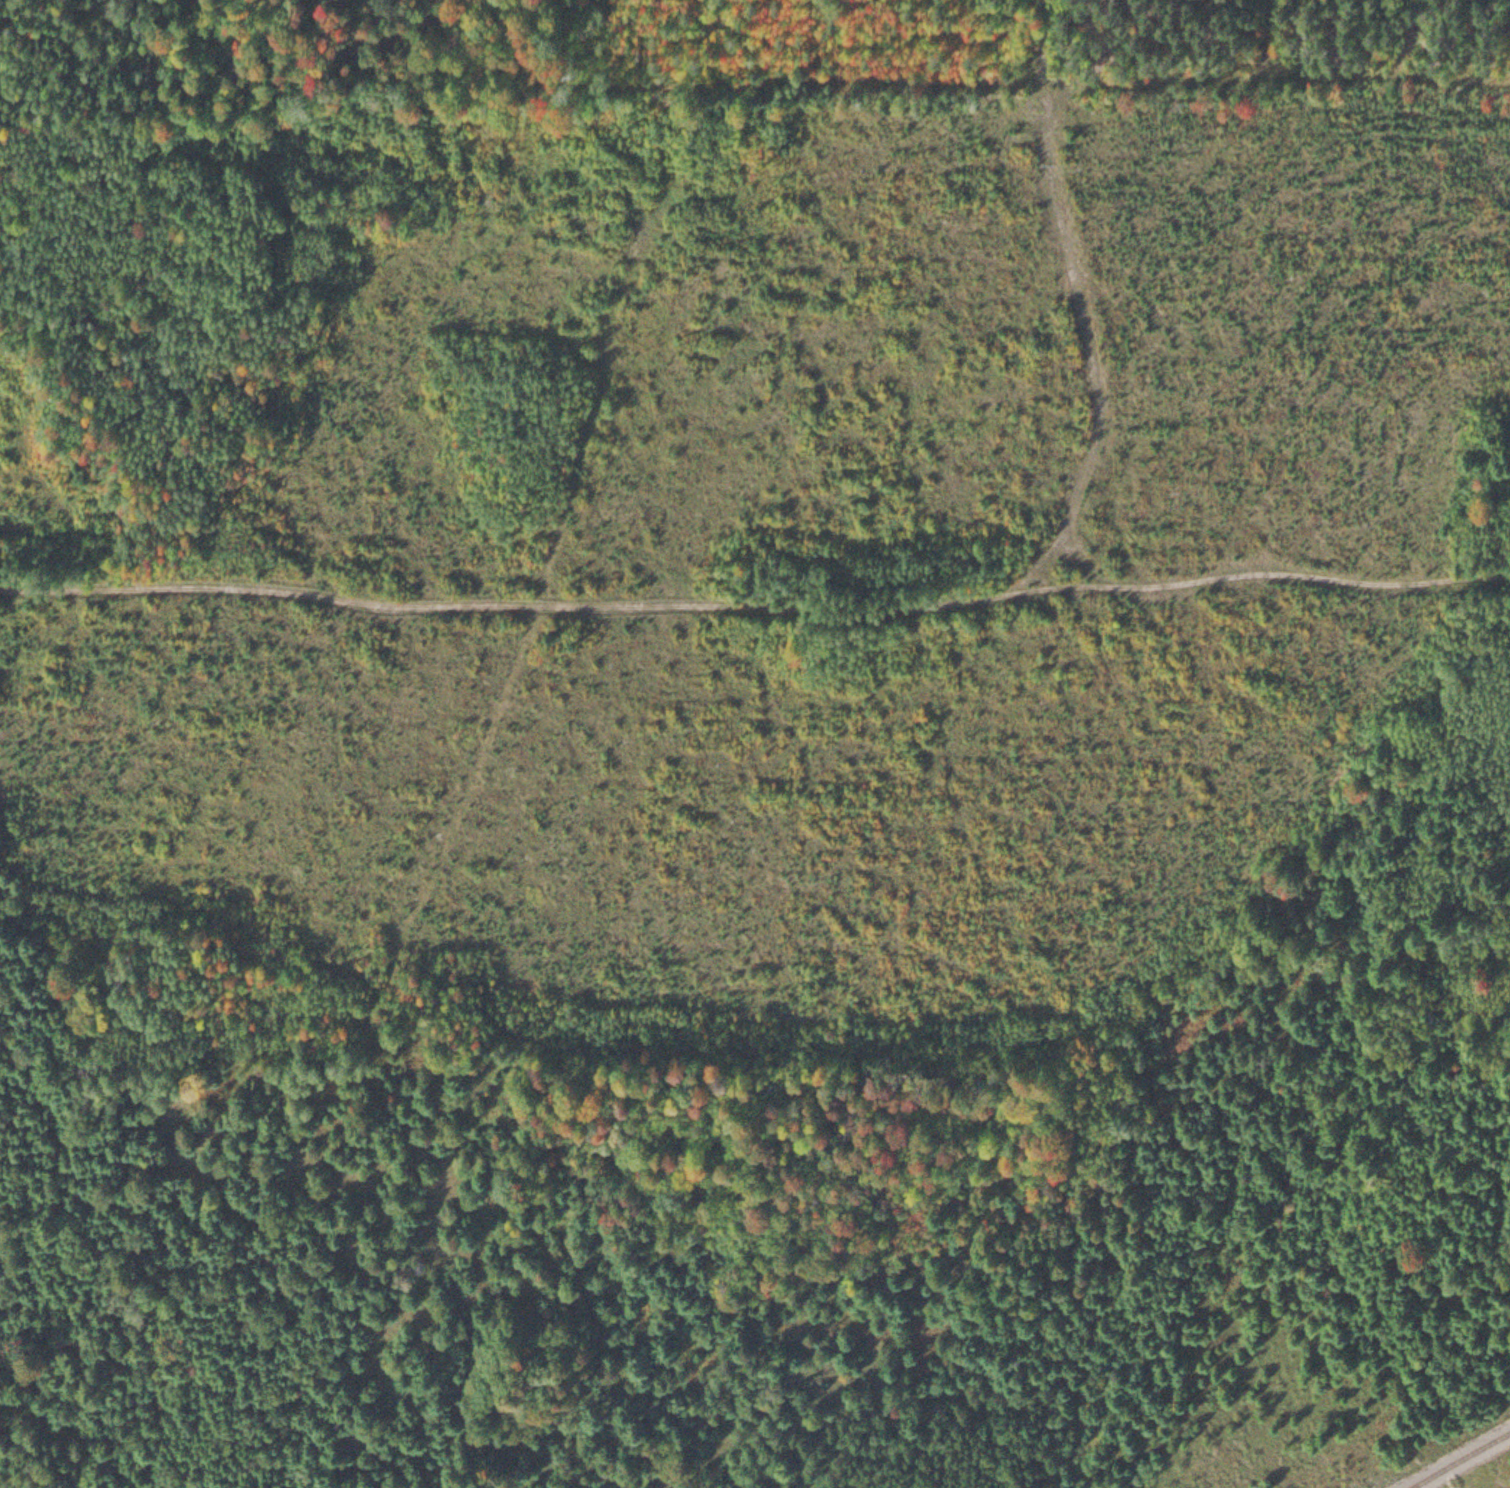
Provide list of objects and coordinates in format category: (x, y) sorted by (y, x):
railway: (1457, 1458)

